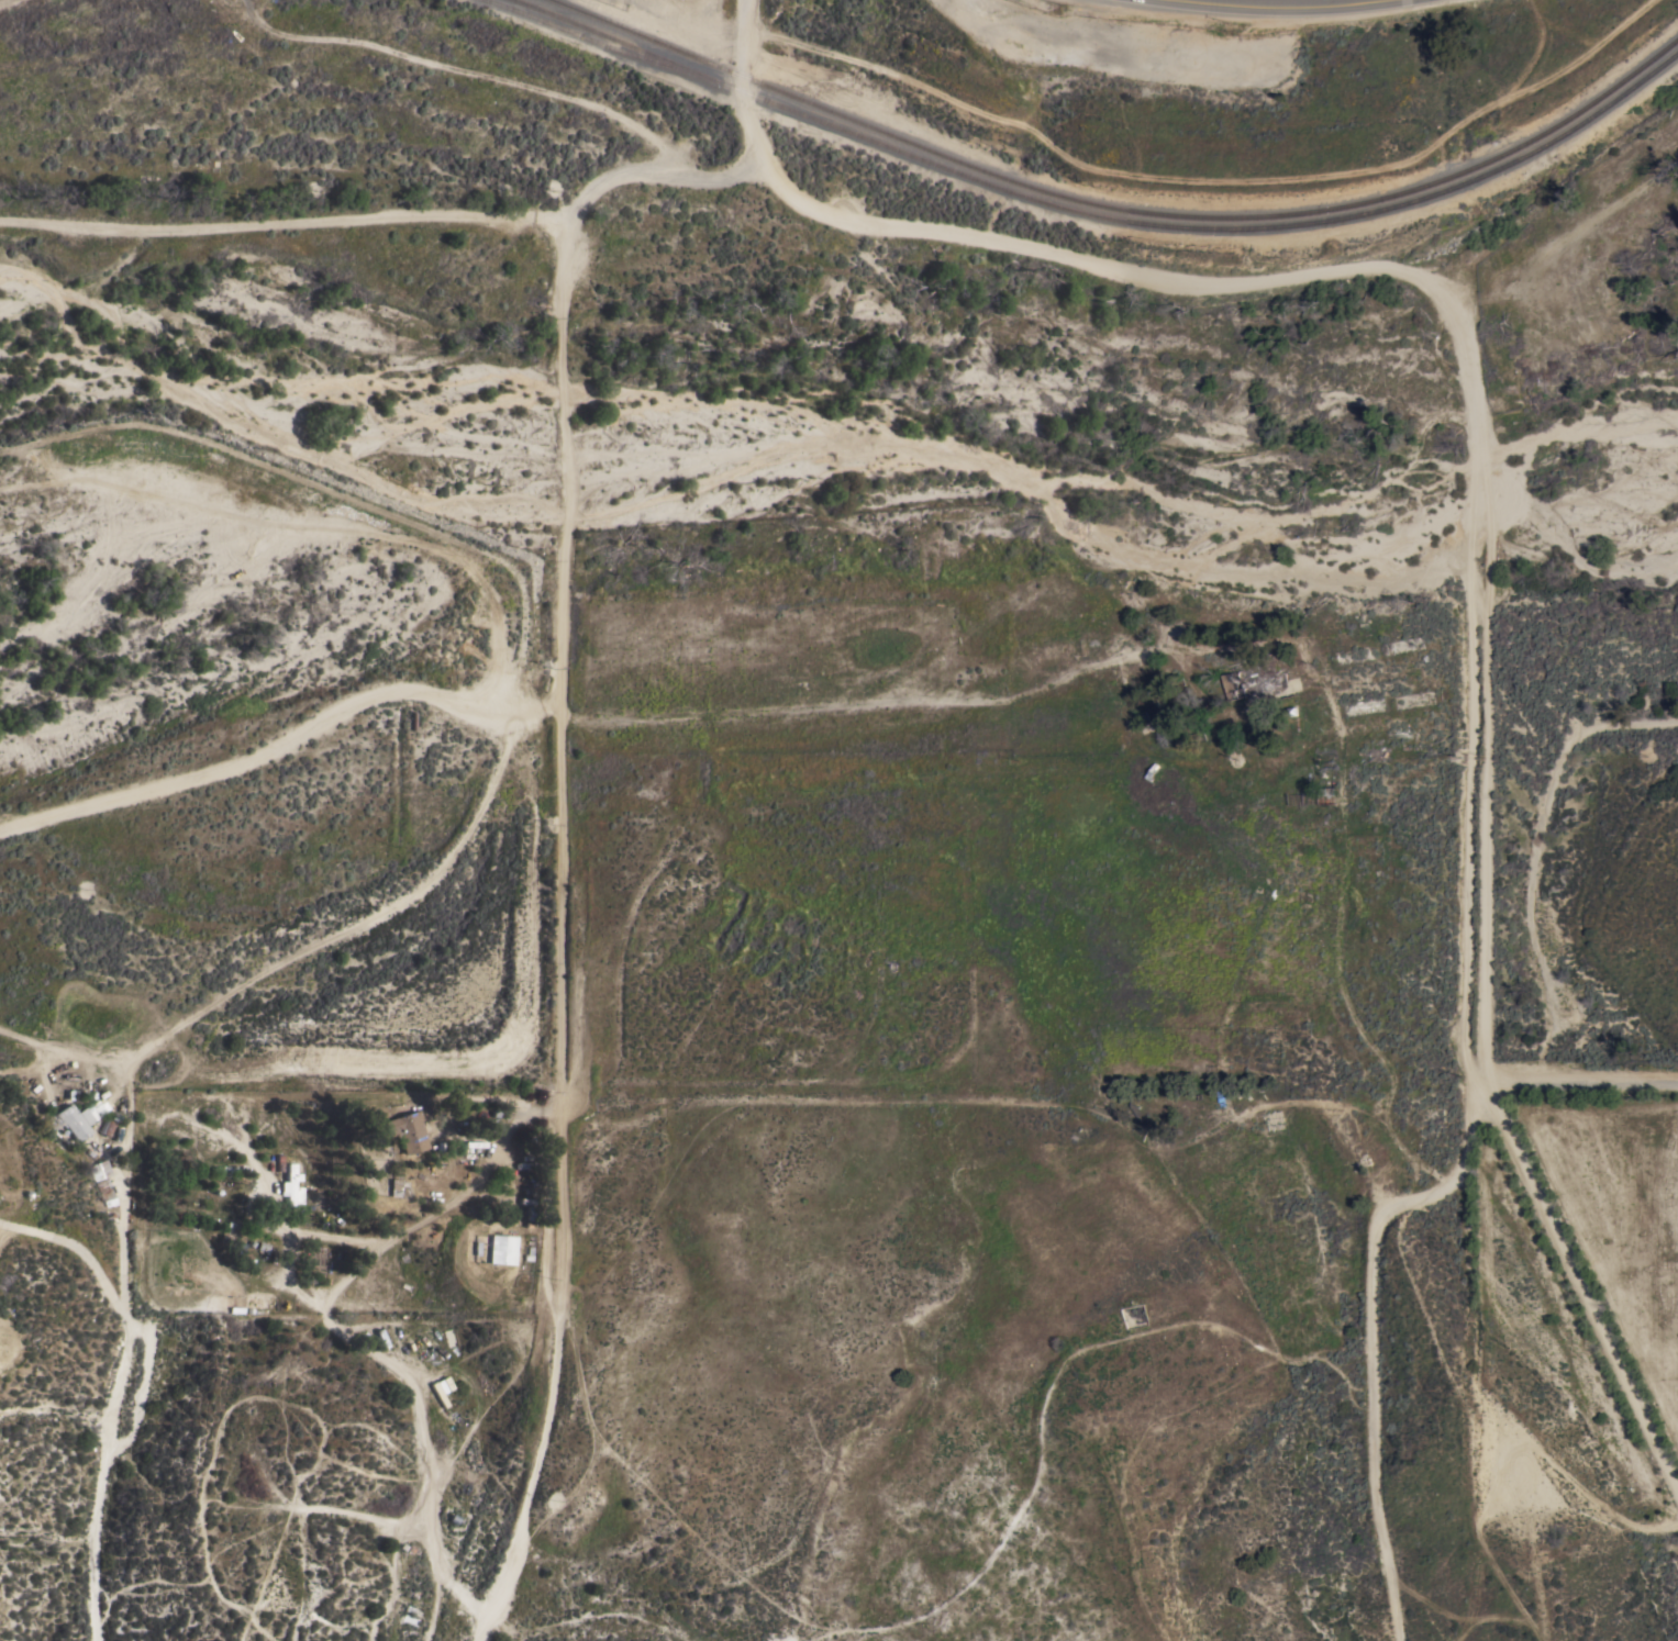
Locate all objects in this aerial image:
road: (1257, 3)
road: (741, 82)
road: (654, 172)
railway: (1118, 208)
railway: (1100, 215)
road: (282, 225)
road: (1573, 239)
road: (1466, 317)
road: (564, 418)
road: (327, 491)
road: (313, 529)
road: (559, 670)
building: (1252, 681)
road: (922, 701)
building: (1311, 718)
road: (268, 751)
building: (1327, 796)
road: (1536, 849)
road: (308, 951)
road: (498, 1060)
road: (1578, 1073)
road: (1022, 1103)
building: (77, 1118)
building: (107, 1127)
building: (402, 1131)
building: (103, 1182)
building: (290, 1187)
building: (392, 1187)
road: (558, 1191)
road: (437, 1216)
building: (501, 1250)
road: (1578, 1285)
road: (1369, 1332)
road: (145, 1366)
building: (441, 1384)
road: (114, 1399)
road: (416, 1405)

